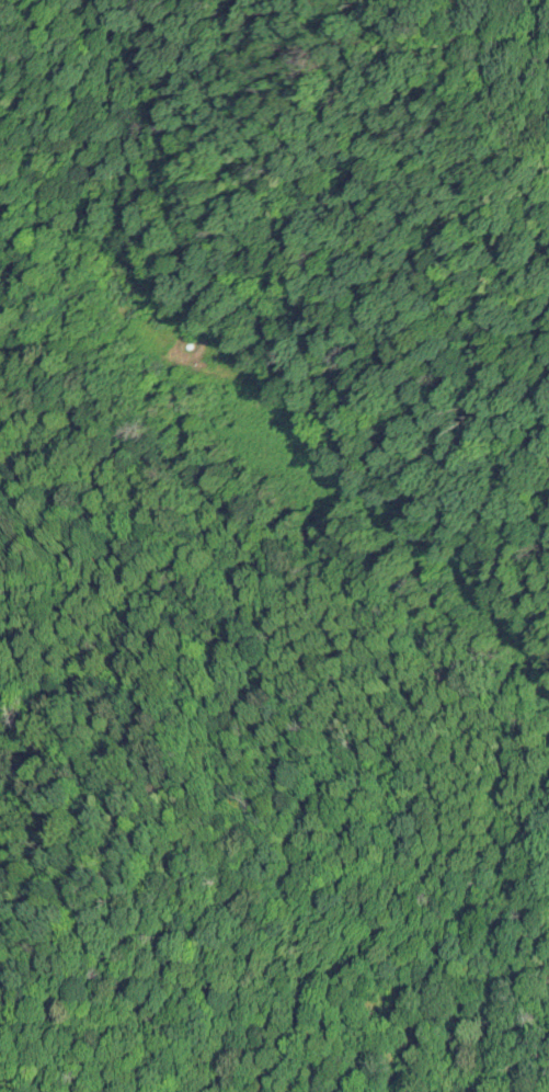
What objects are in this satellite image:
road: (544, 1024)

